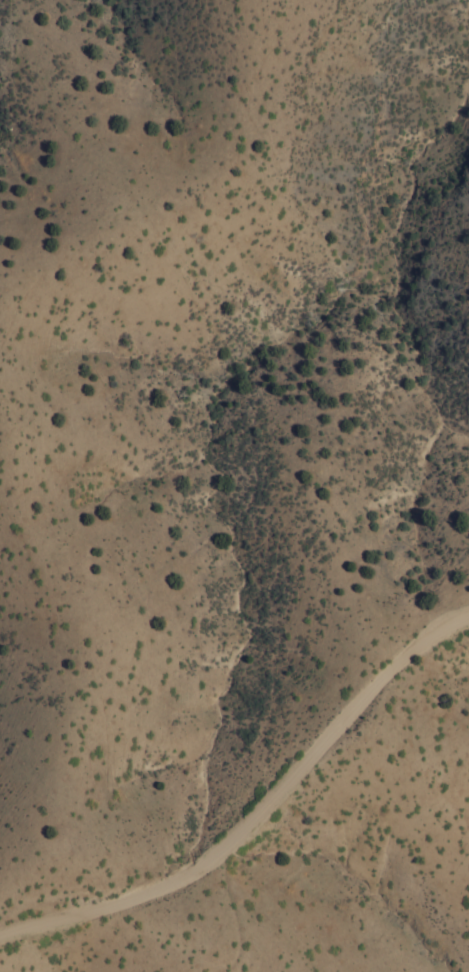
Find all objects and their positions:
road: (258, 813)

